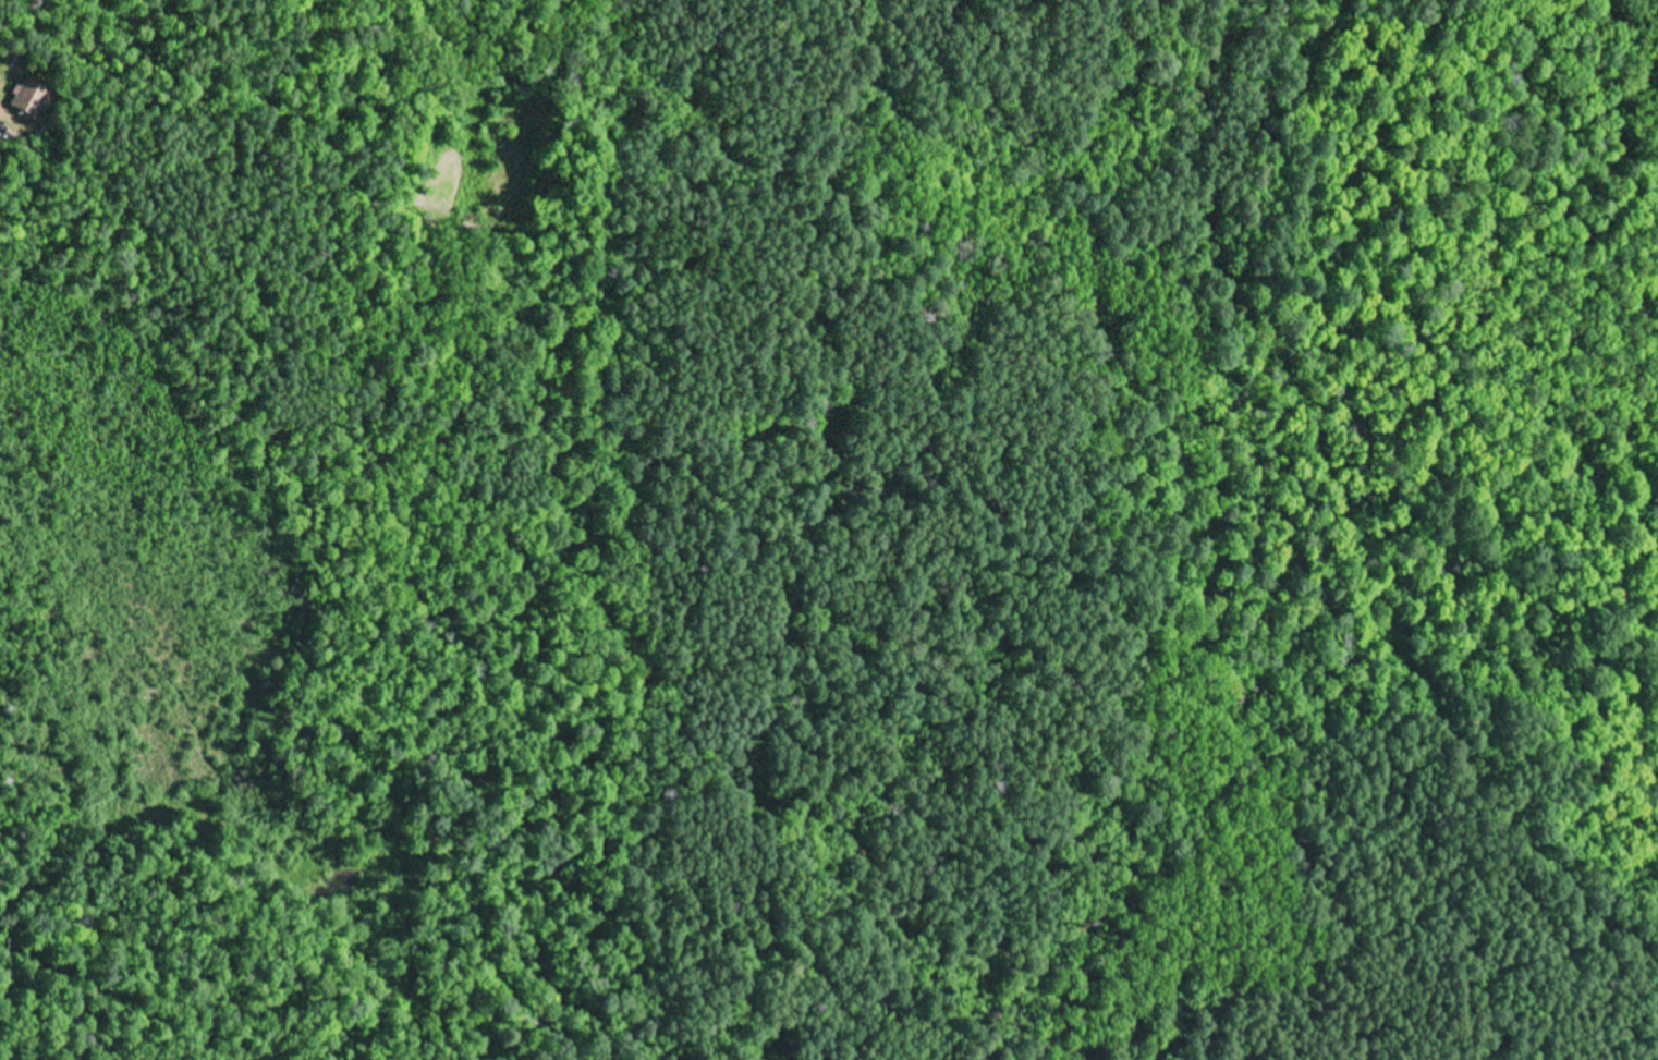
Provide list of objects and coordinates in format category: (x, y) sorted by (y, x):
building: (27, 96)

